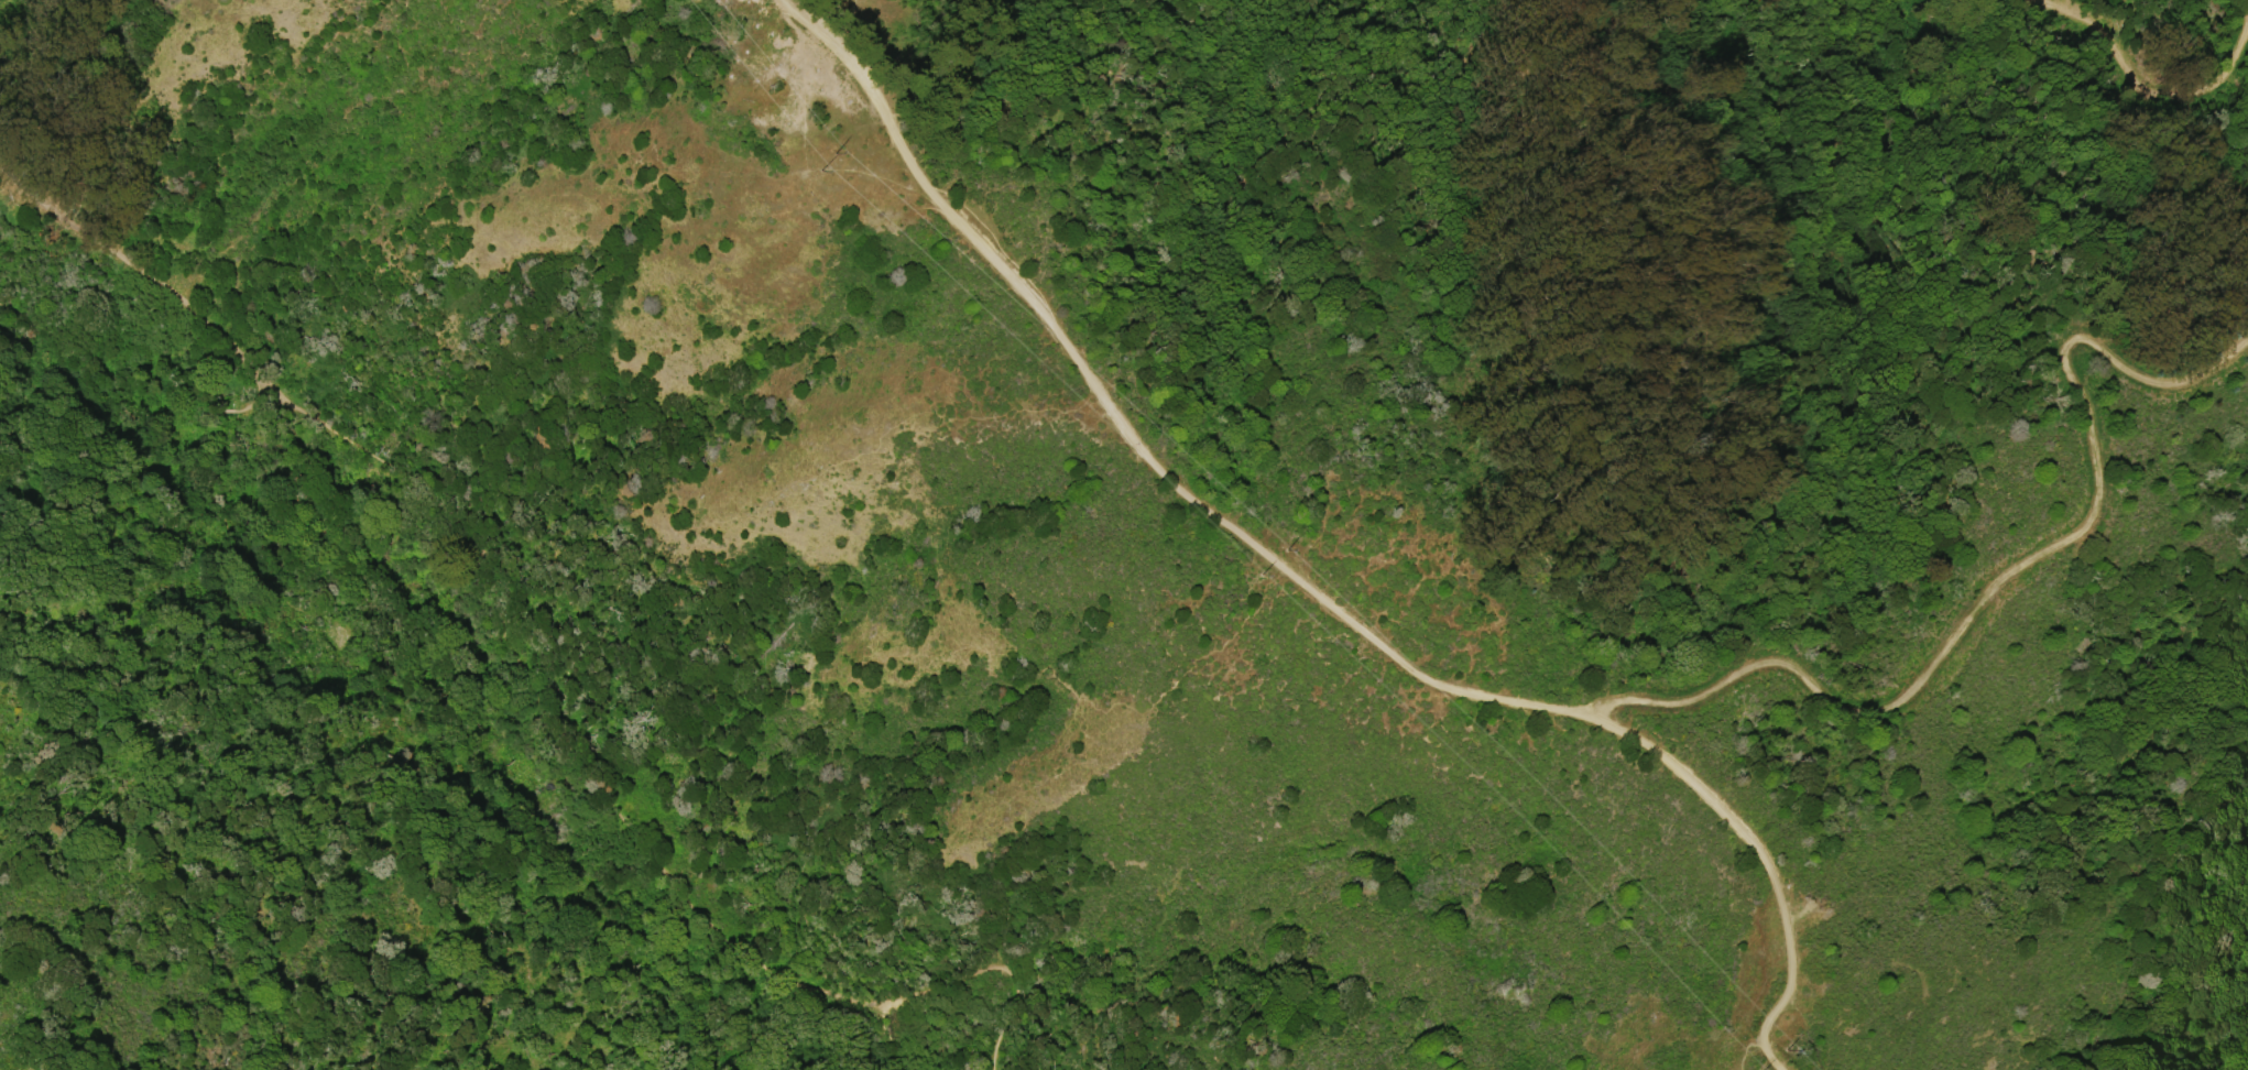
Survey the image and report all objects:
road: (2176, 103)
road: (139, 266)
road: (124, 381)
road: (1218, 526)
road: (2004, 579)
power tower: (340, 642)
road: (618, 809)
road: (1790, 981)

